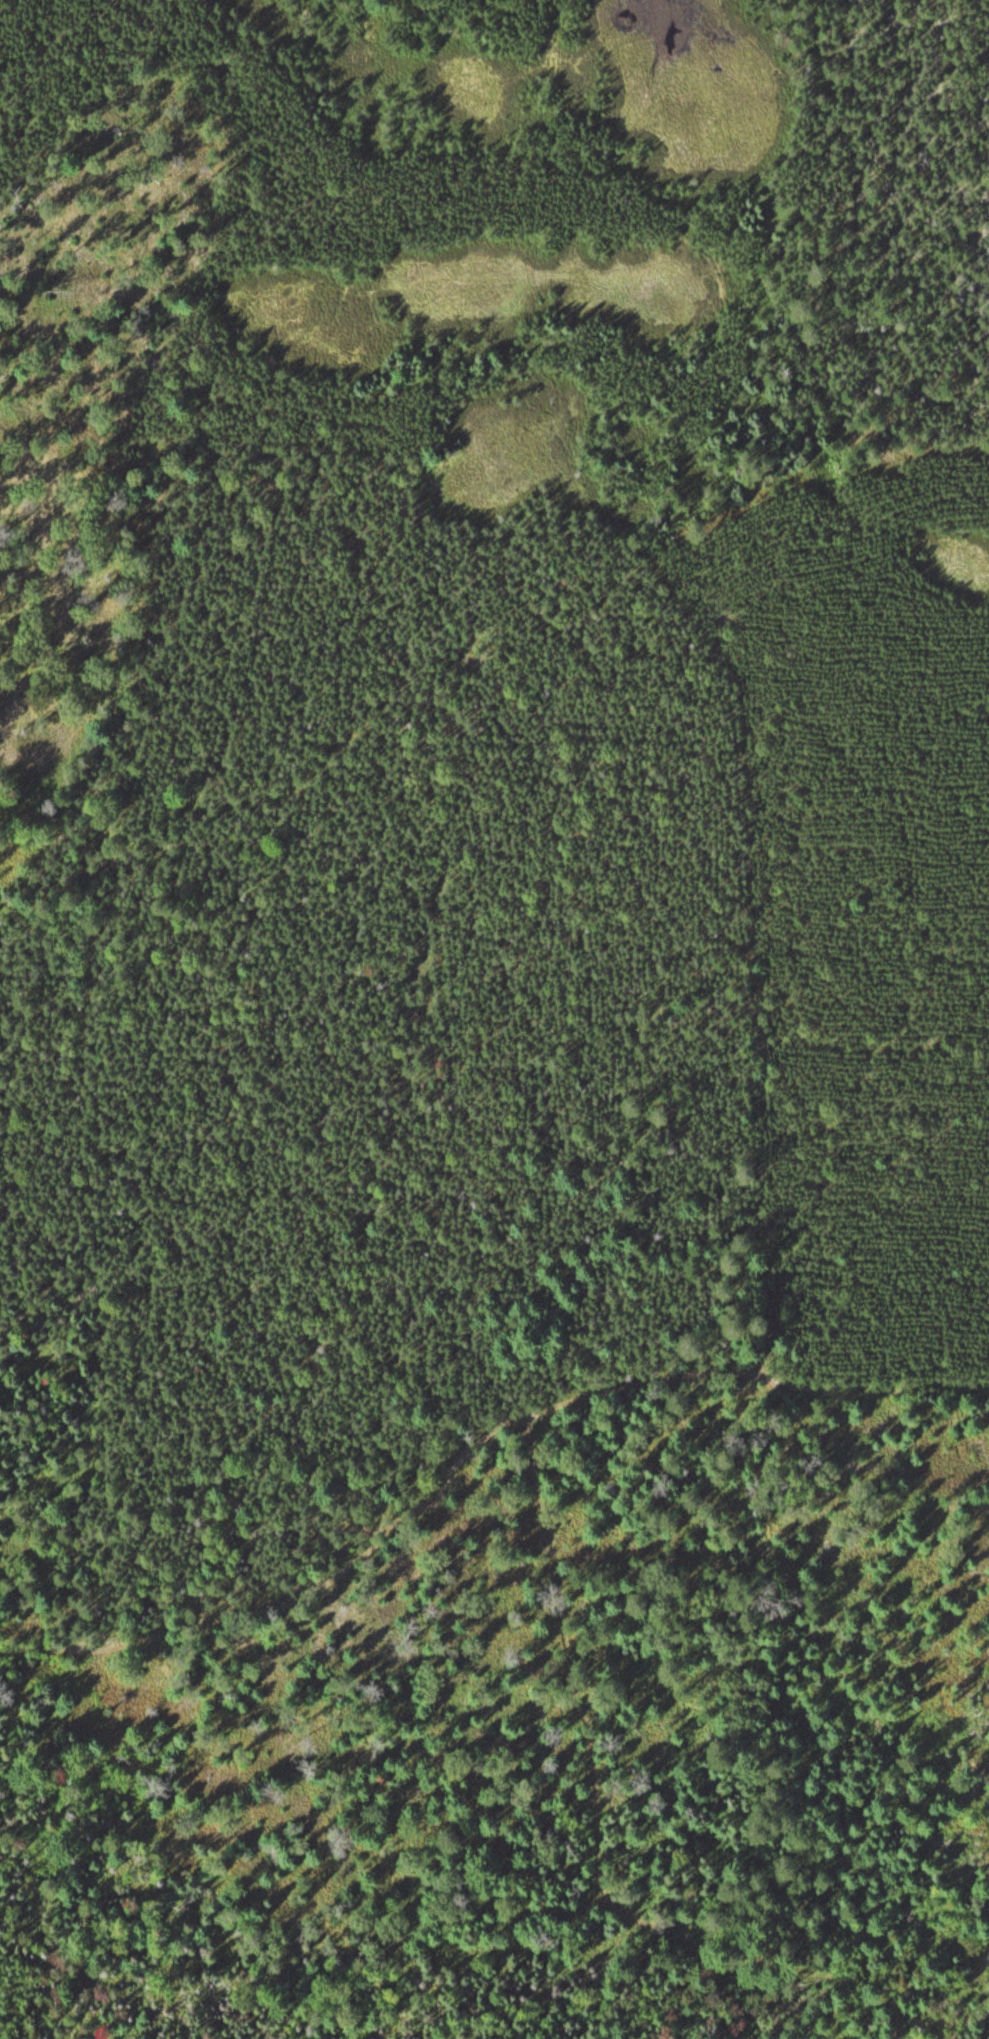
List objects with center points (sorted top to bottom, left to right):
road: (486, 1433)

